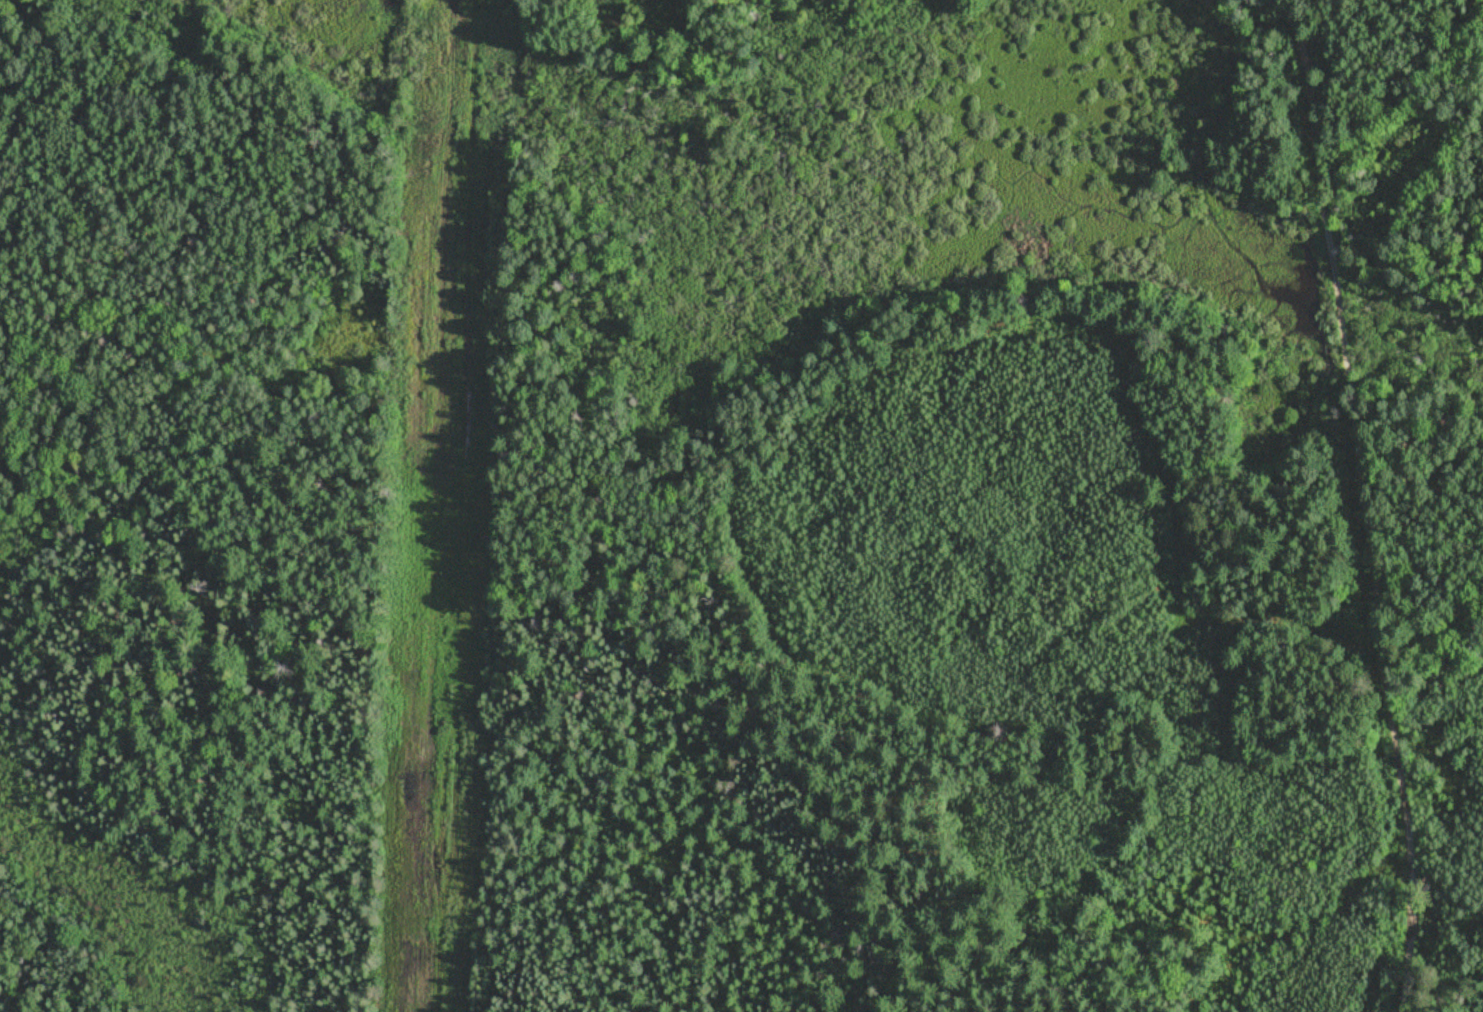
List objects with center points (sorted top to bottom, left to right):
road: (1355, 503)

